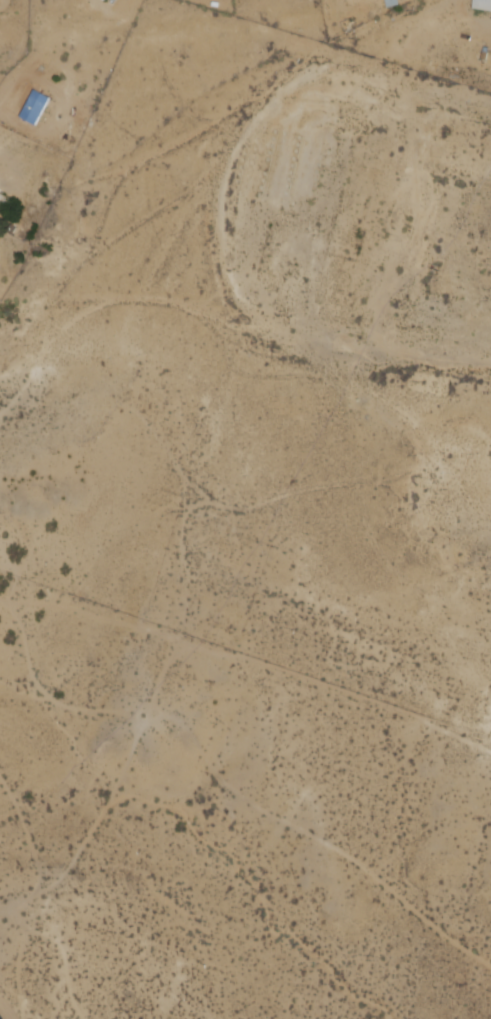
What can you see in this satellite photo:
building: (103, 0)
building: (482, 4)
road: (3, 108)
building: (35, 108)
building: (2, 198)

